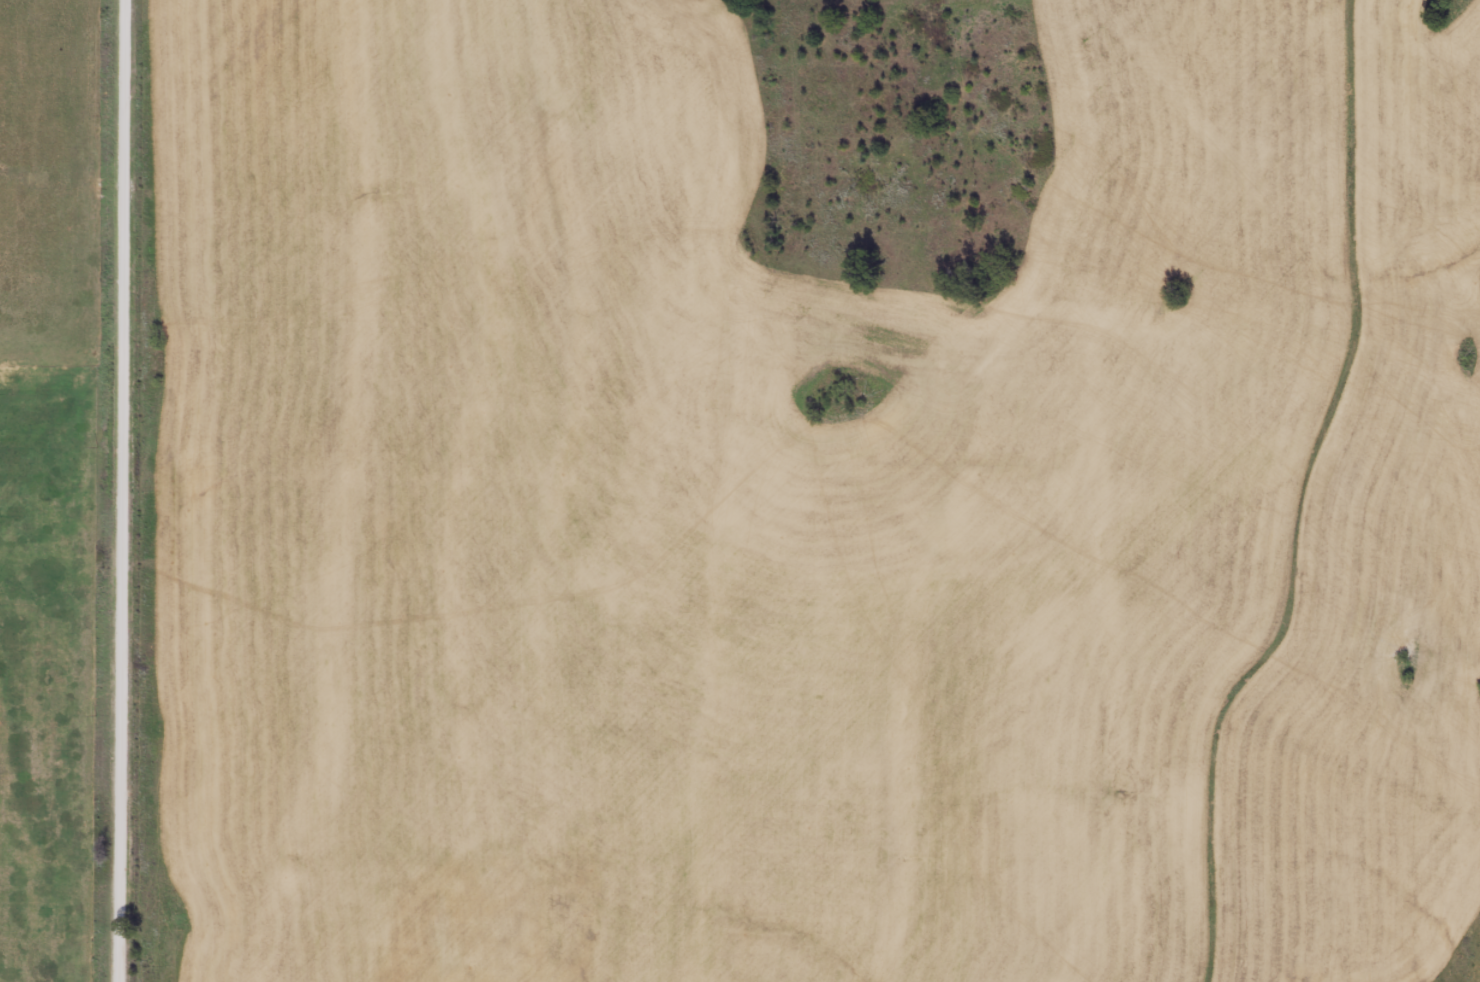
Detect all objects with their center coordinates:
road: (125, 491)

